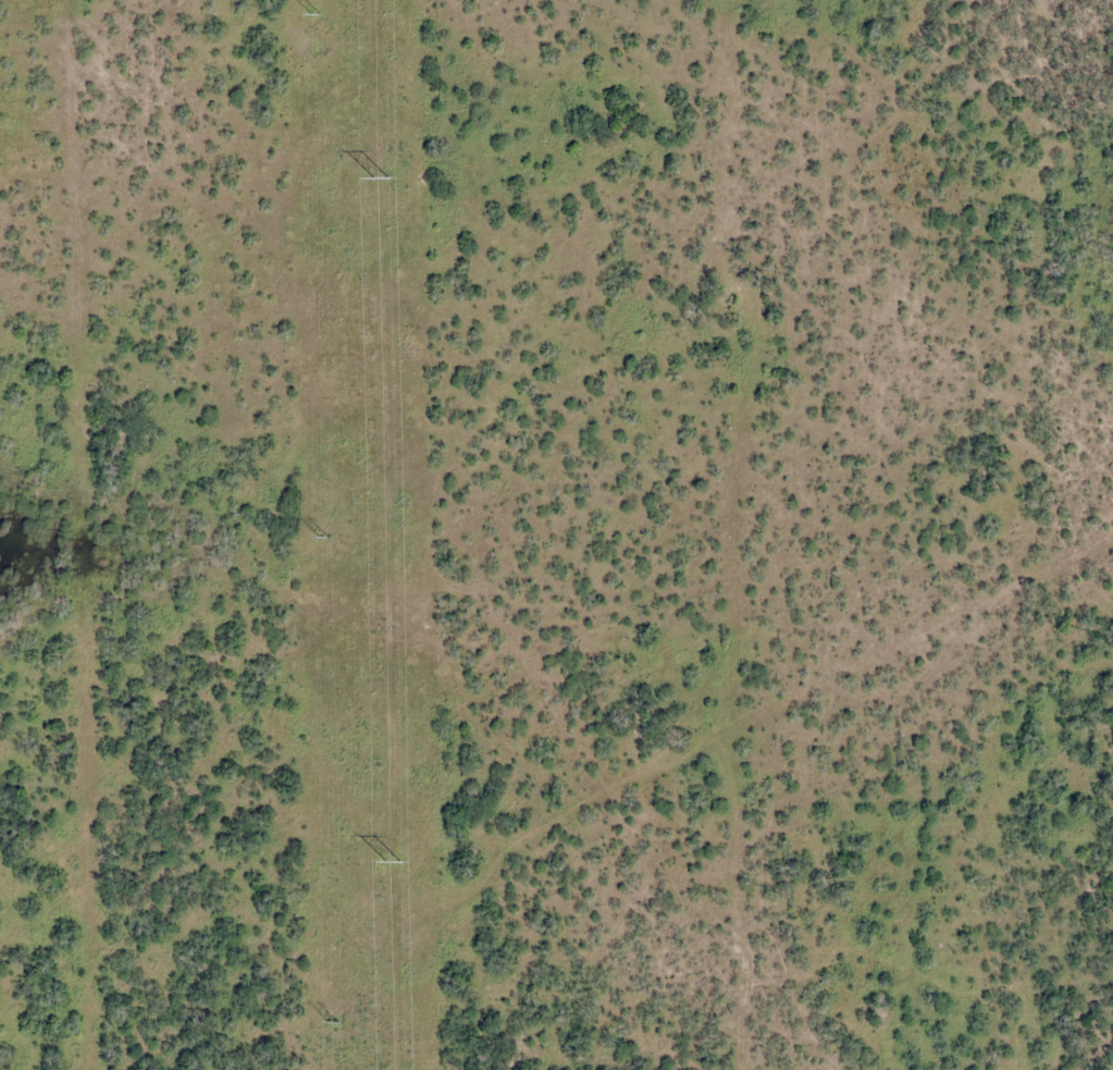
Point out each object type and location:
power tower: (314, 14)
power tower: (381, 179)
power tower: (324, 539)
power tower: (393, 862)
power tower: (333, 1023)

